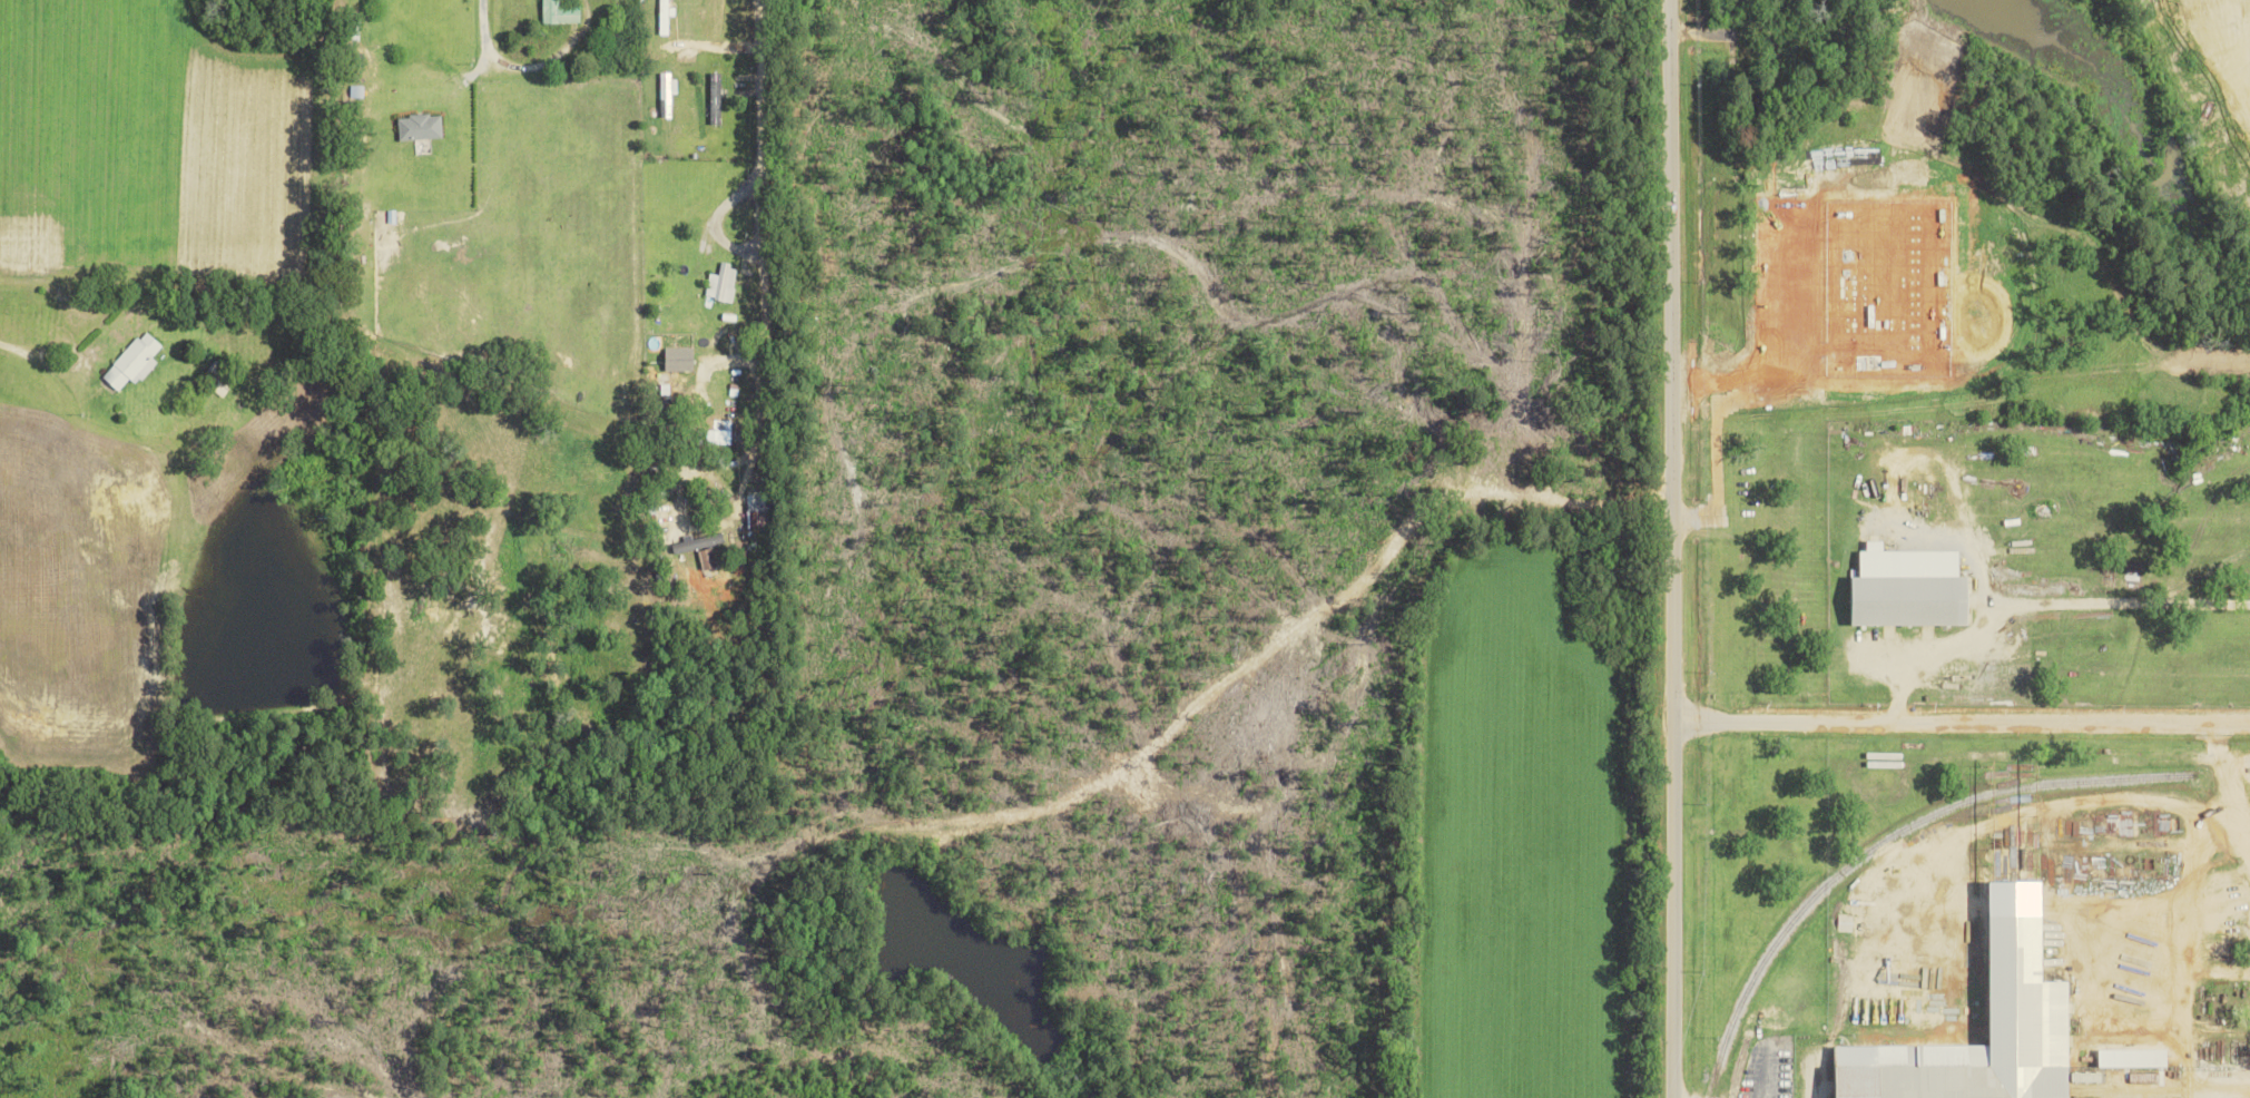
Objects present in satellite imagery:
building: (559, 12)
road: (521, 65)
road: (754, 109)
building: (420, 127)
building: (721, 282)
road: (29, 352)
road: (706, 356)
building: (679, 359)
building: (134, 360)
building: (699, 541)
road: (1662, 549)
building: (1912, 587)
road: (1956, 716)
railway: (1894, 842)
building: (2036, 1012)

